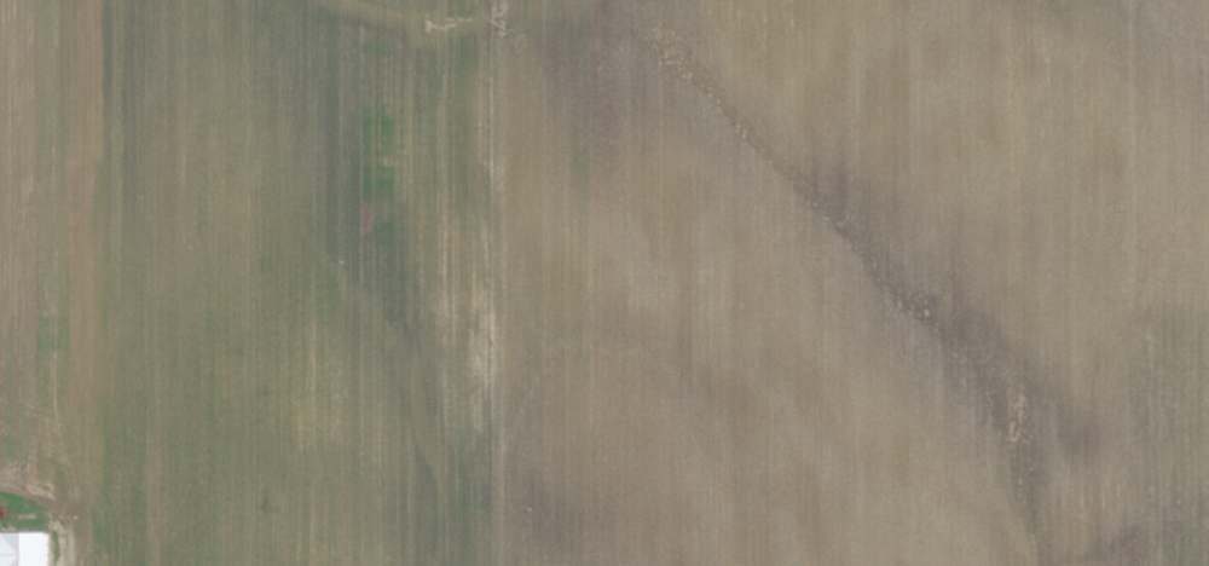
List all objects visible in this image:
building: (29, 547)

